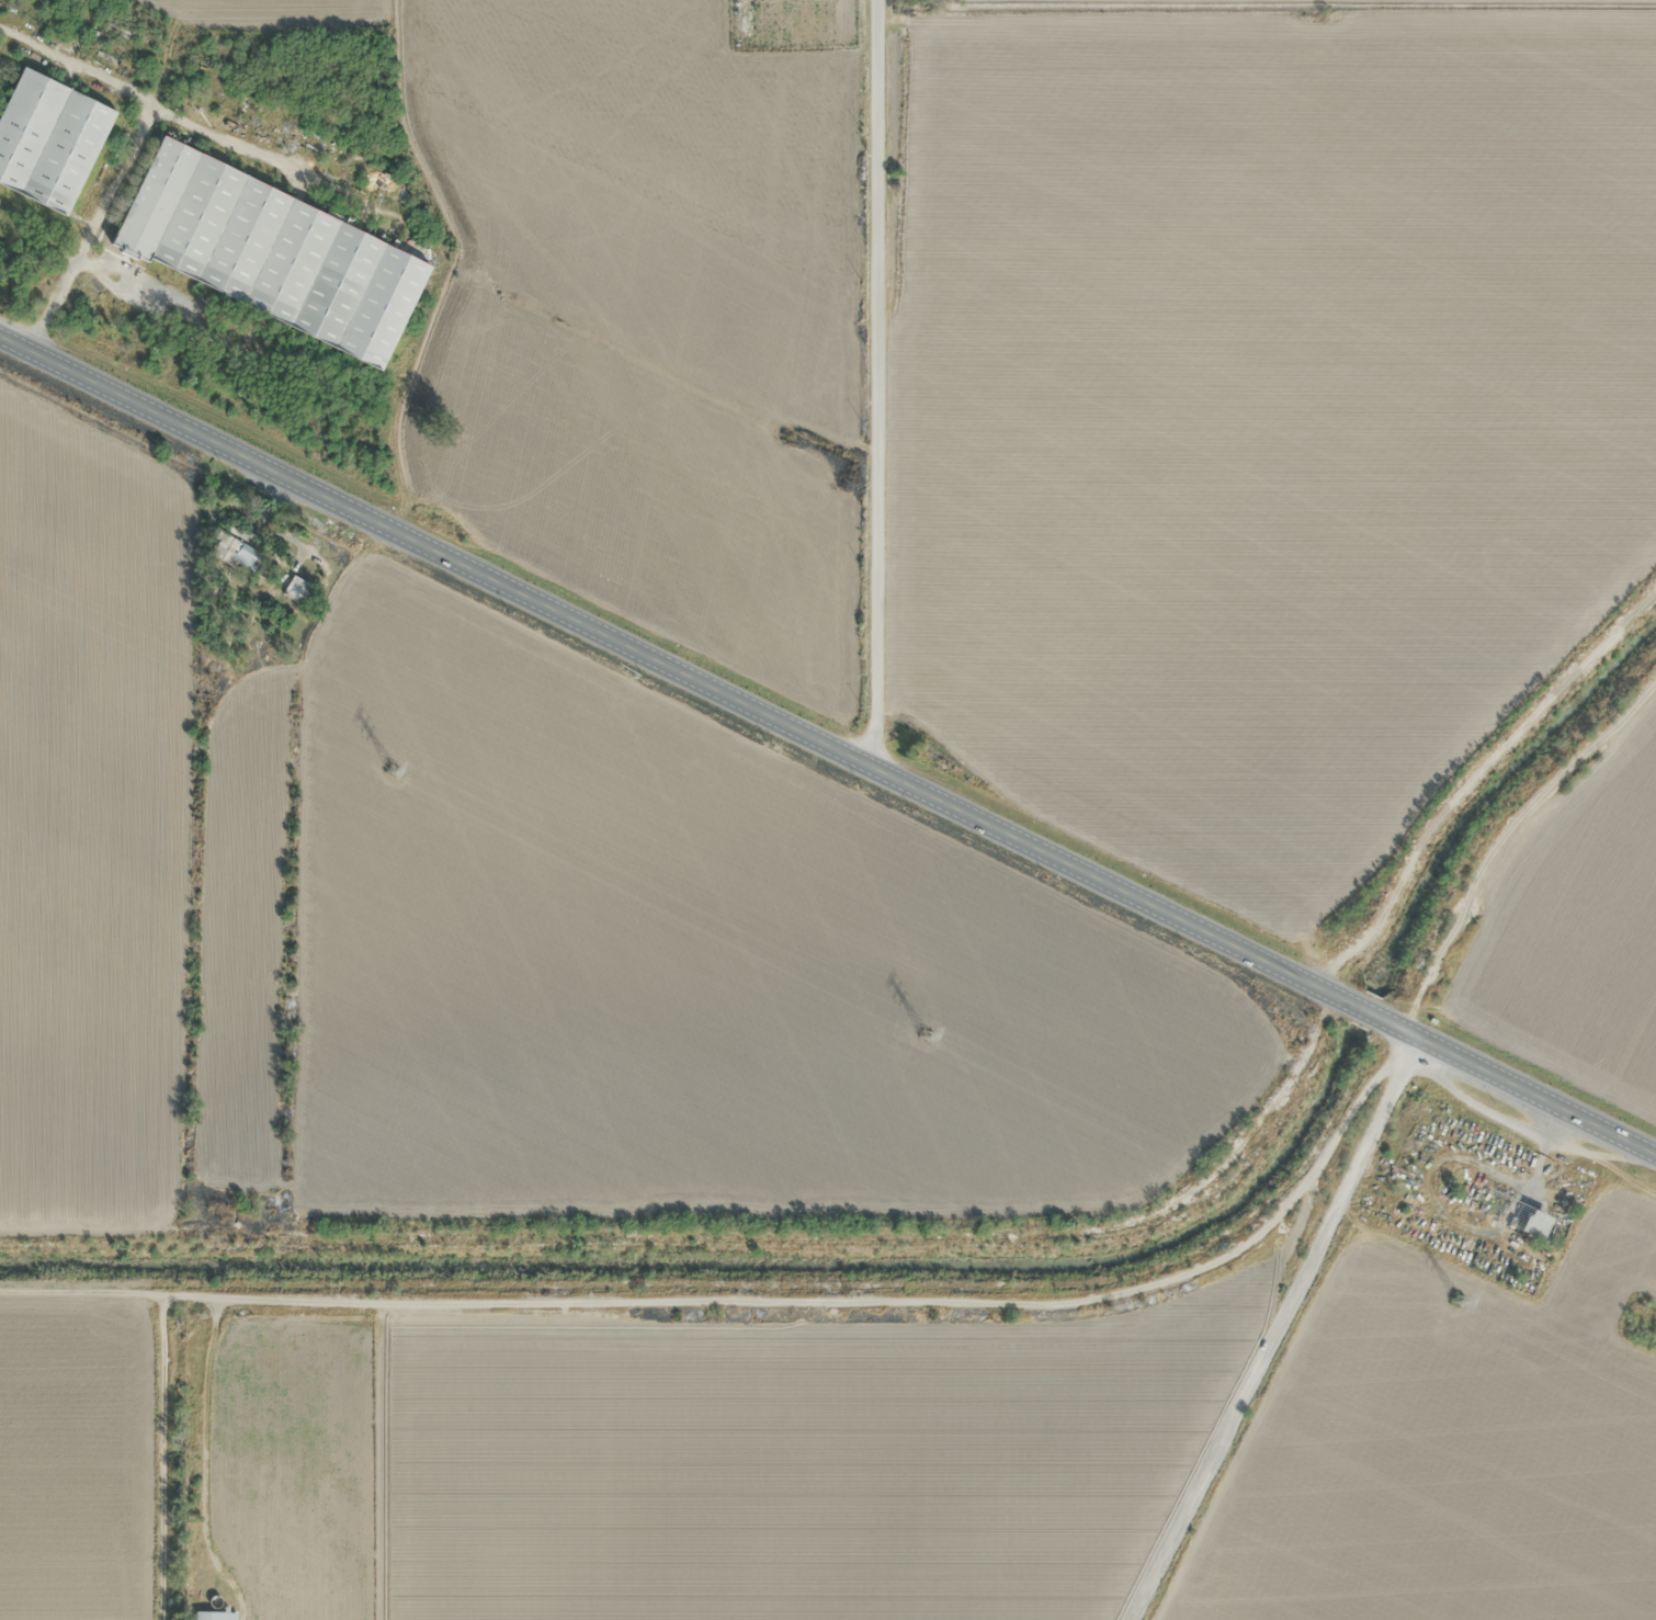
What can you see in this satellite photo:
road: (875, 385)
road: (827, 746)
power tower: (392, 770)
power tower: (922, 1034)
power tower: (1455, 1299)

